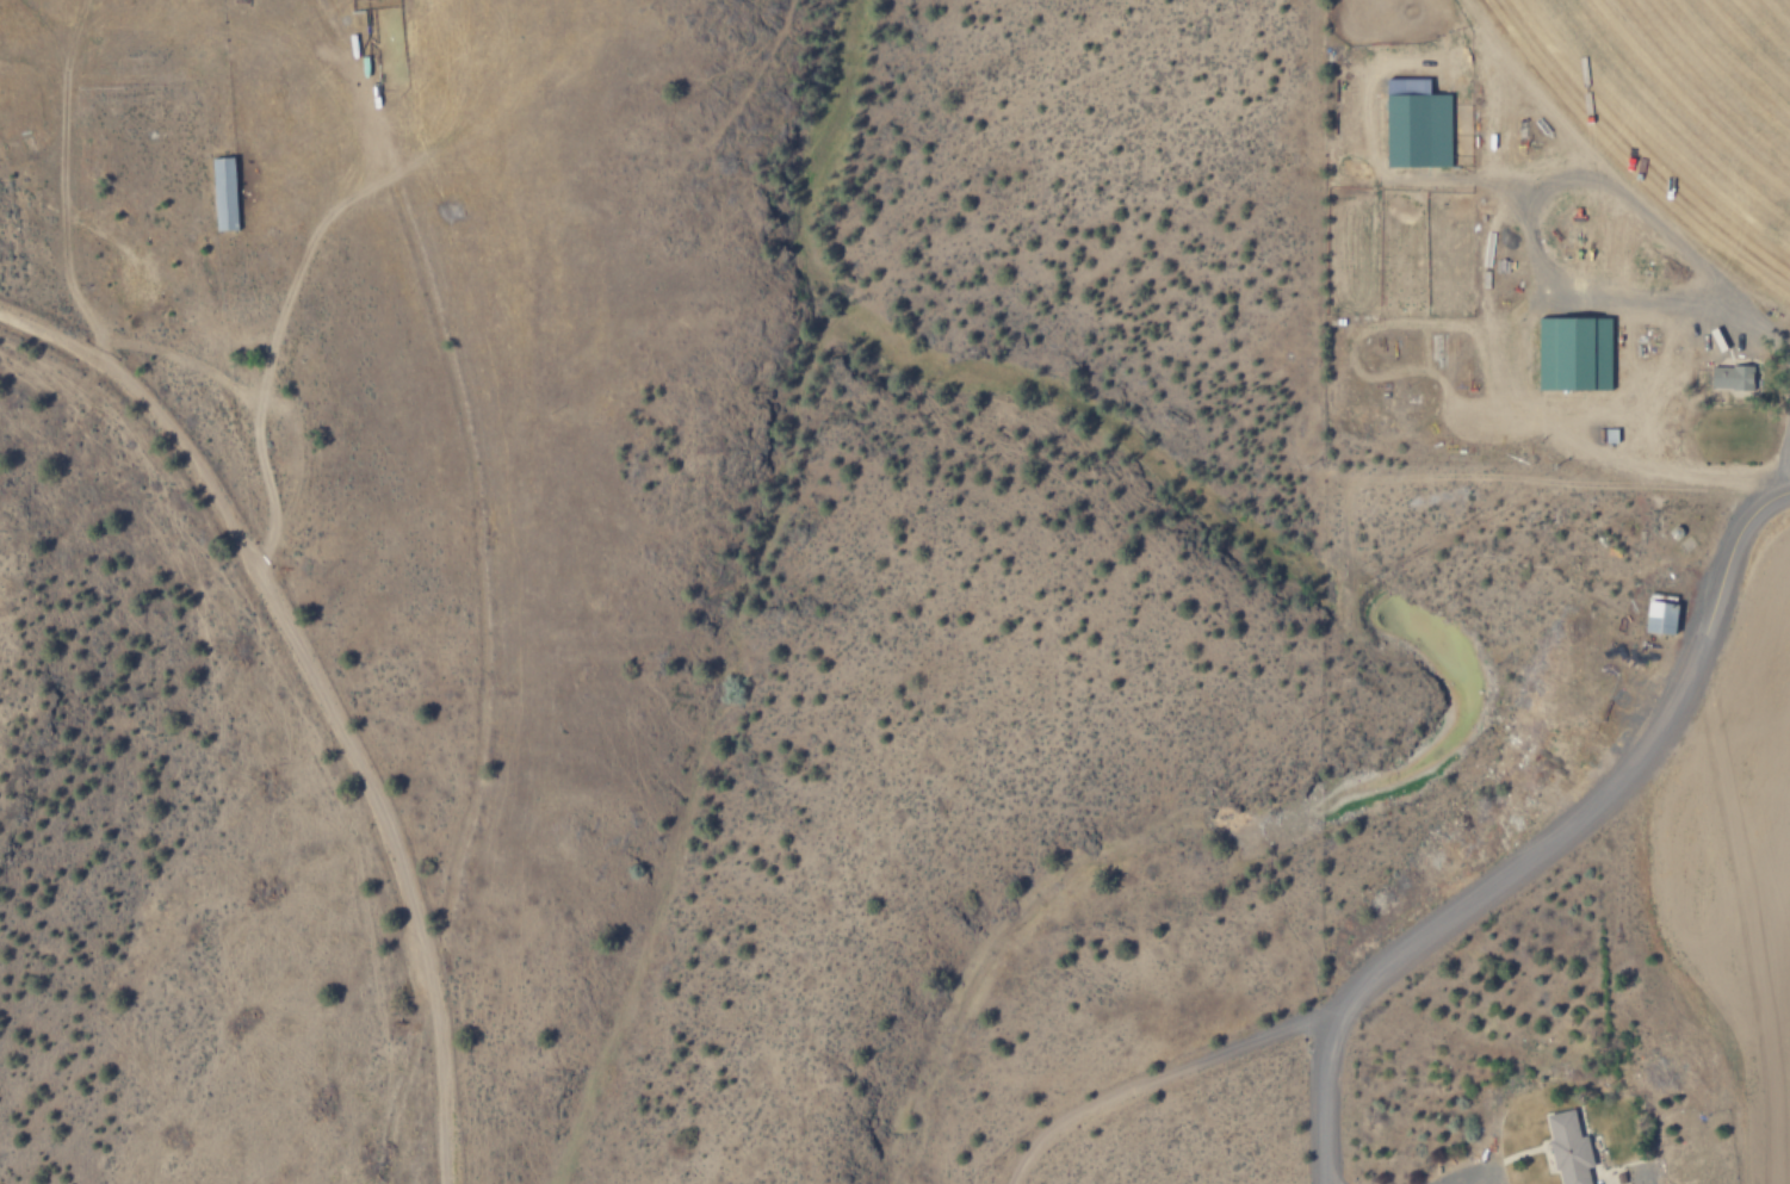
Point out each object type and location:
crop: (1708, 81)
building: (1420, 129)
building: (225, 193)
building: (1575, 352)
building: (1732, 377)
road: (1774, 495)
building: (1664, 616)
road: (321, 693)
road: (1600, 799)
crop: (1767, 866)
road: (1159, 1075)
road: (1326, 1099)
building: (1572, 1147)

